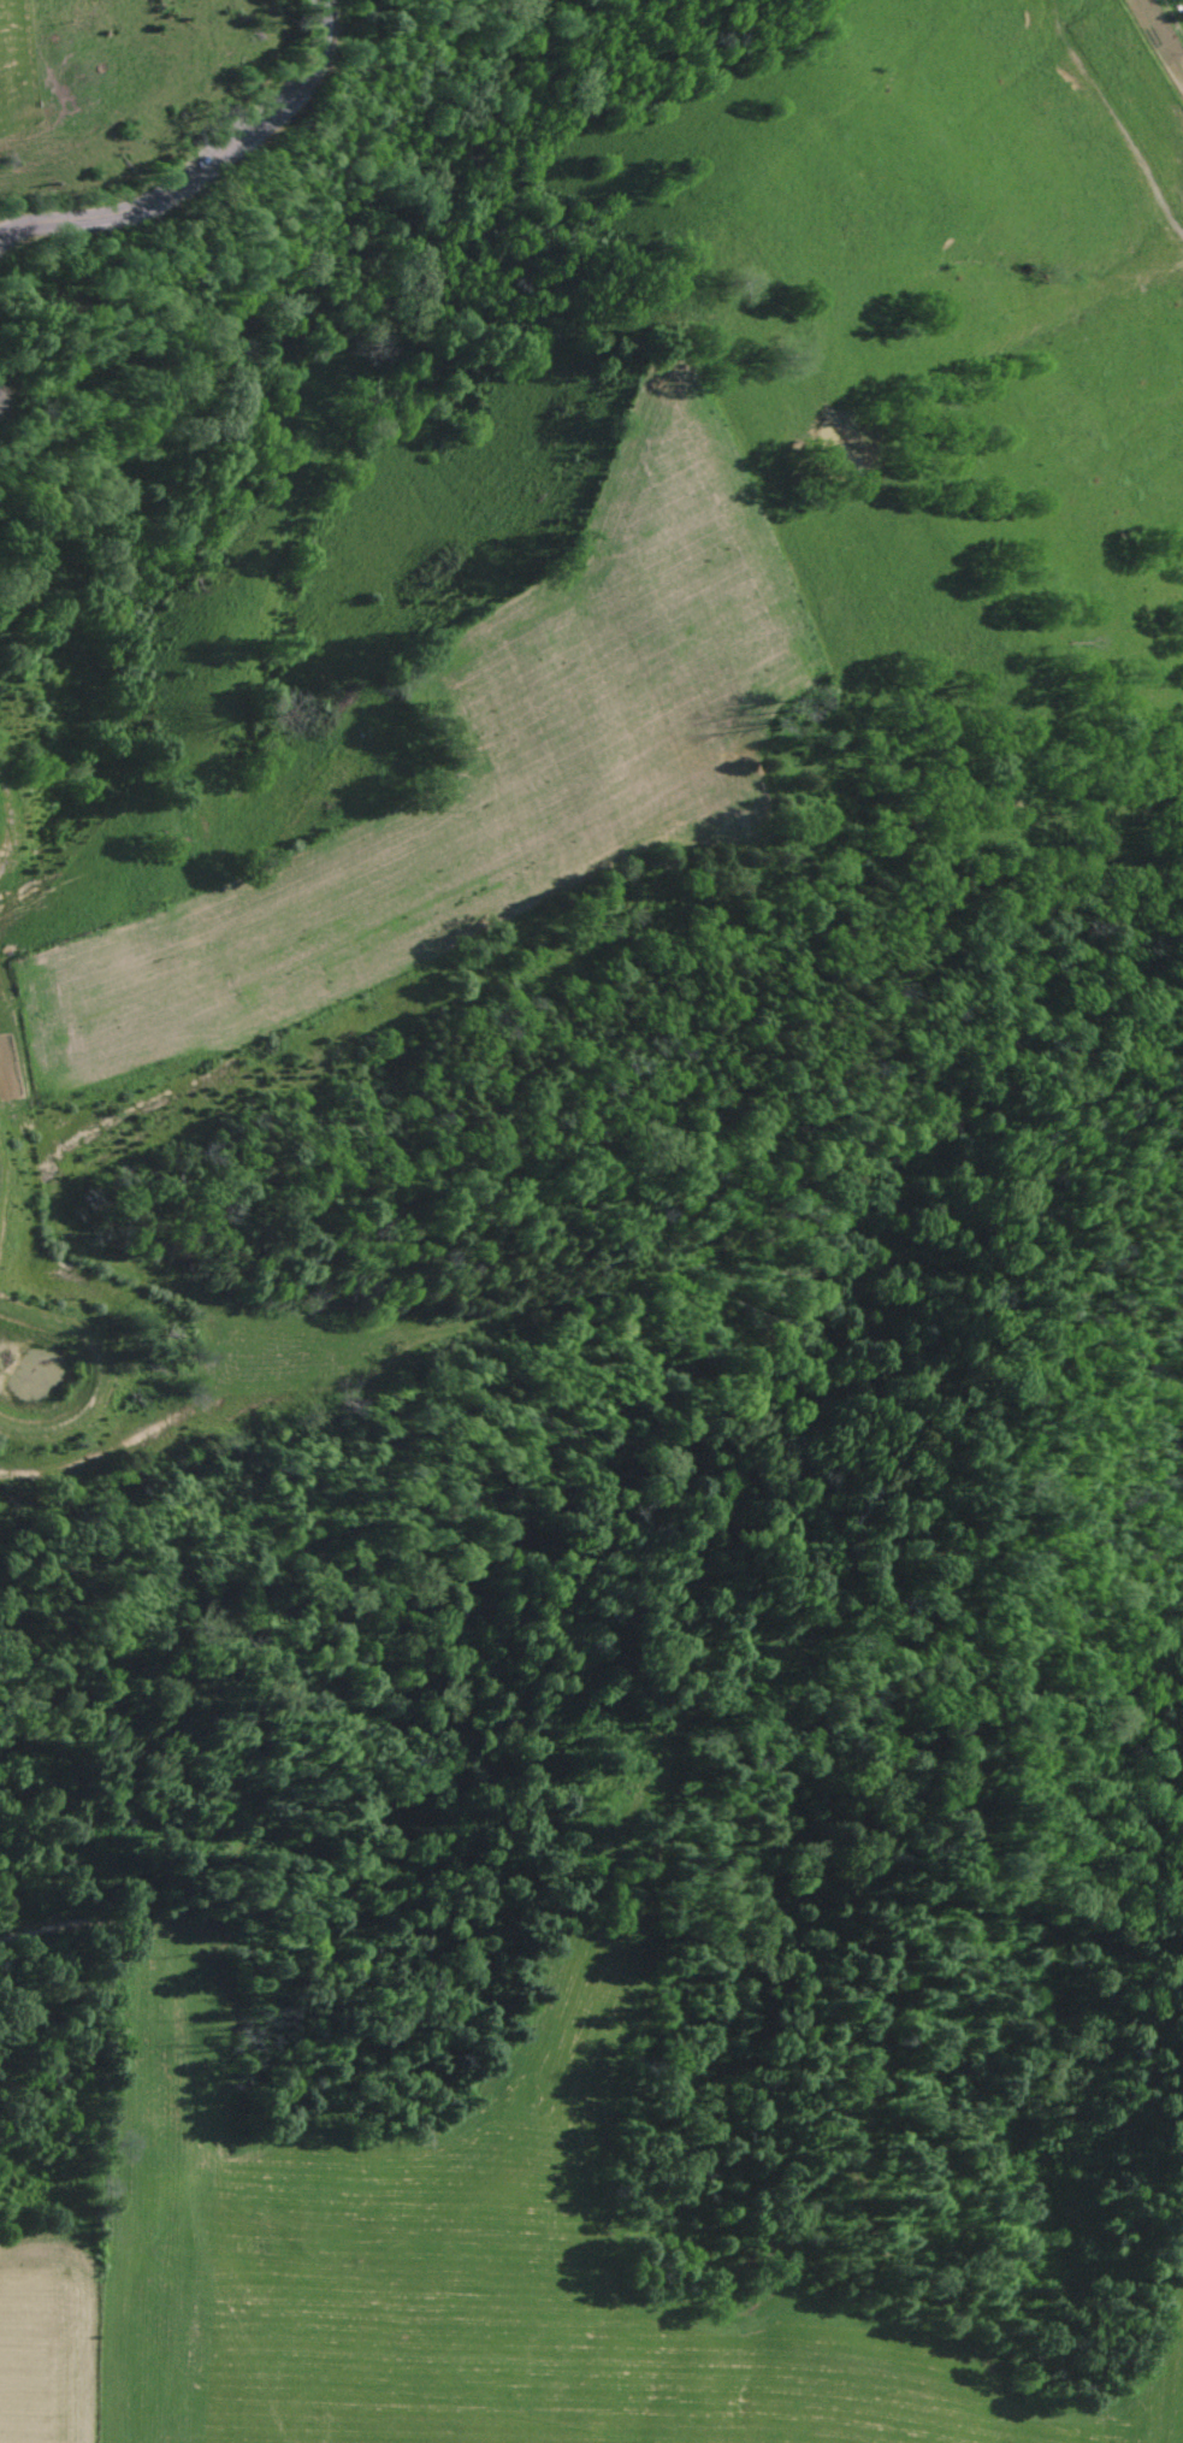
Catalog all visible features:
road: (201, 169)

